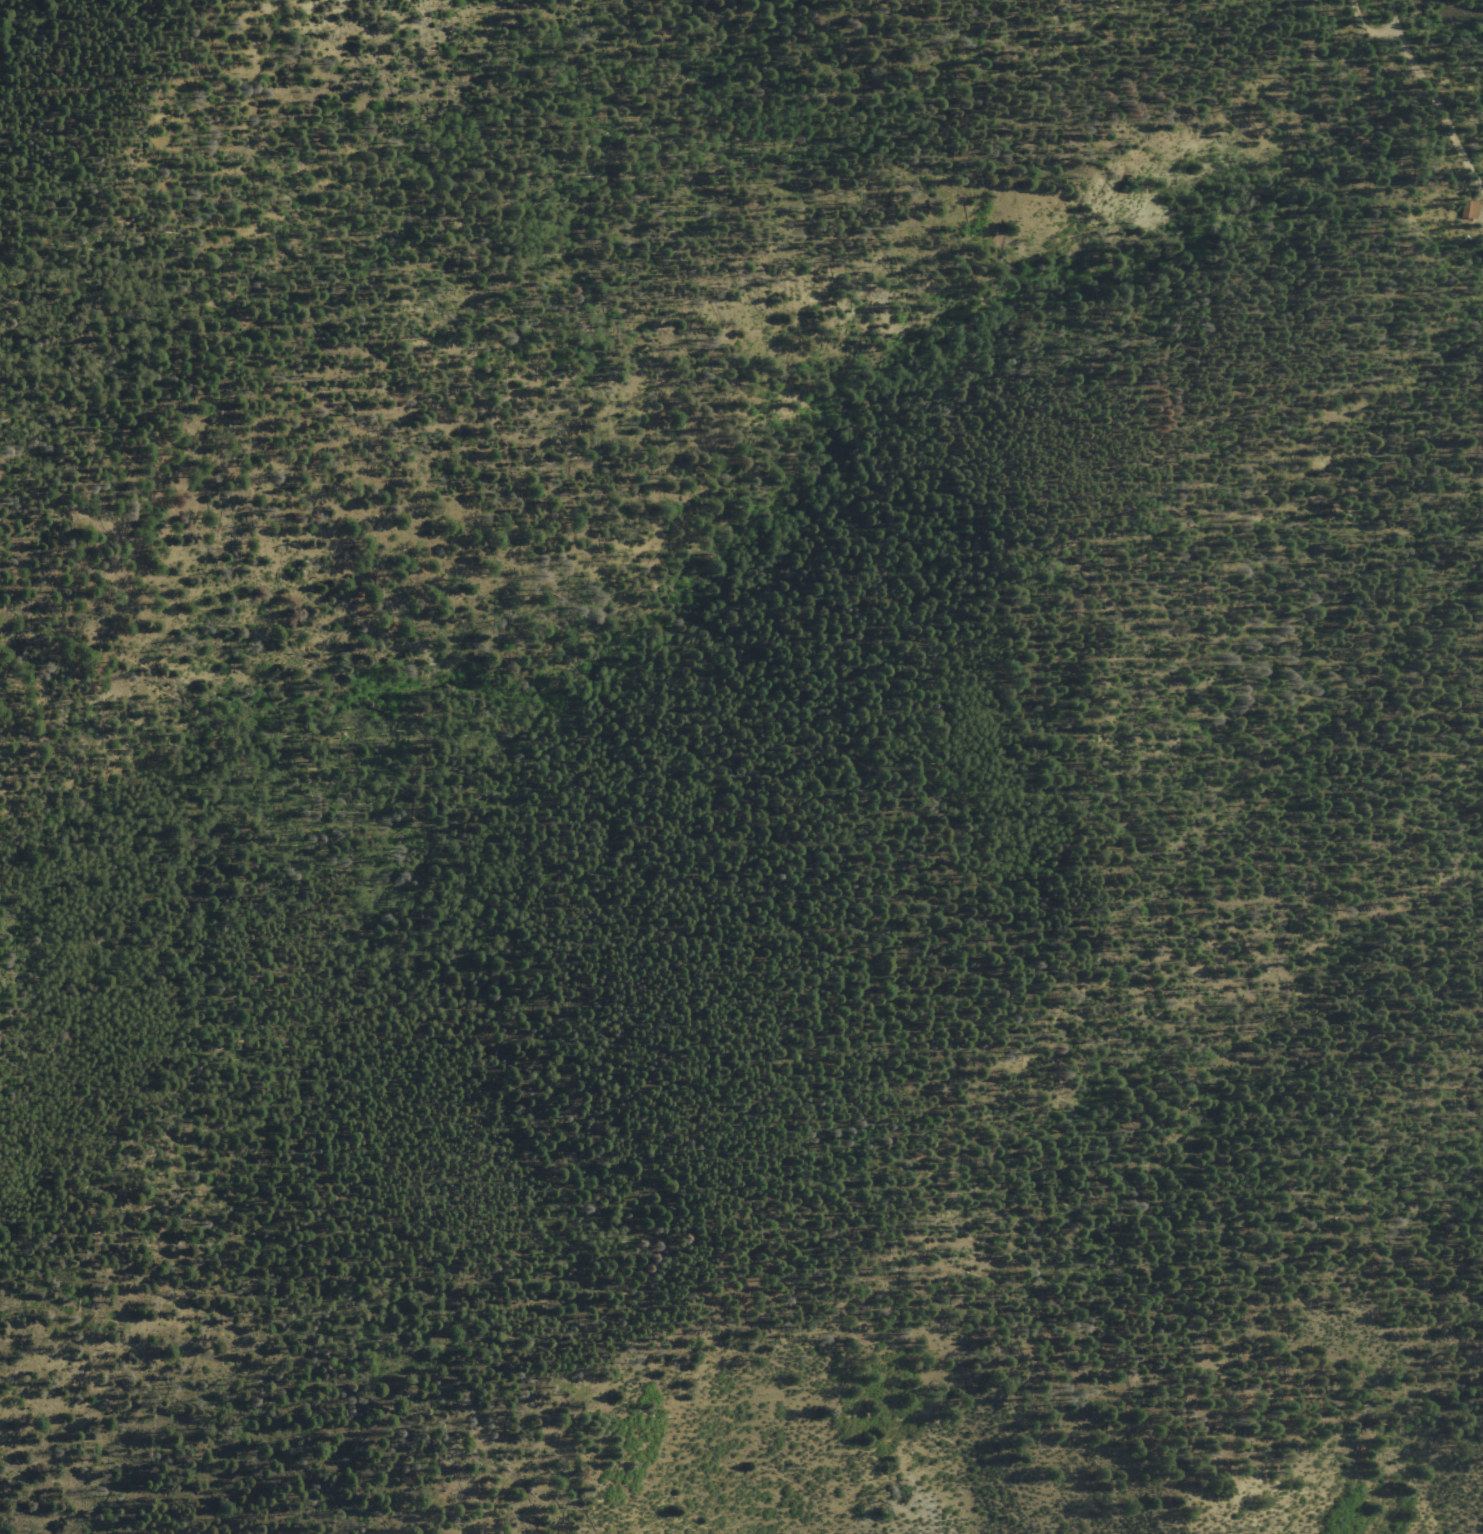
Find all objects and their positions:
building: (1470, 208)

